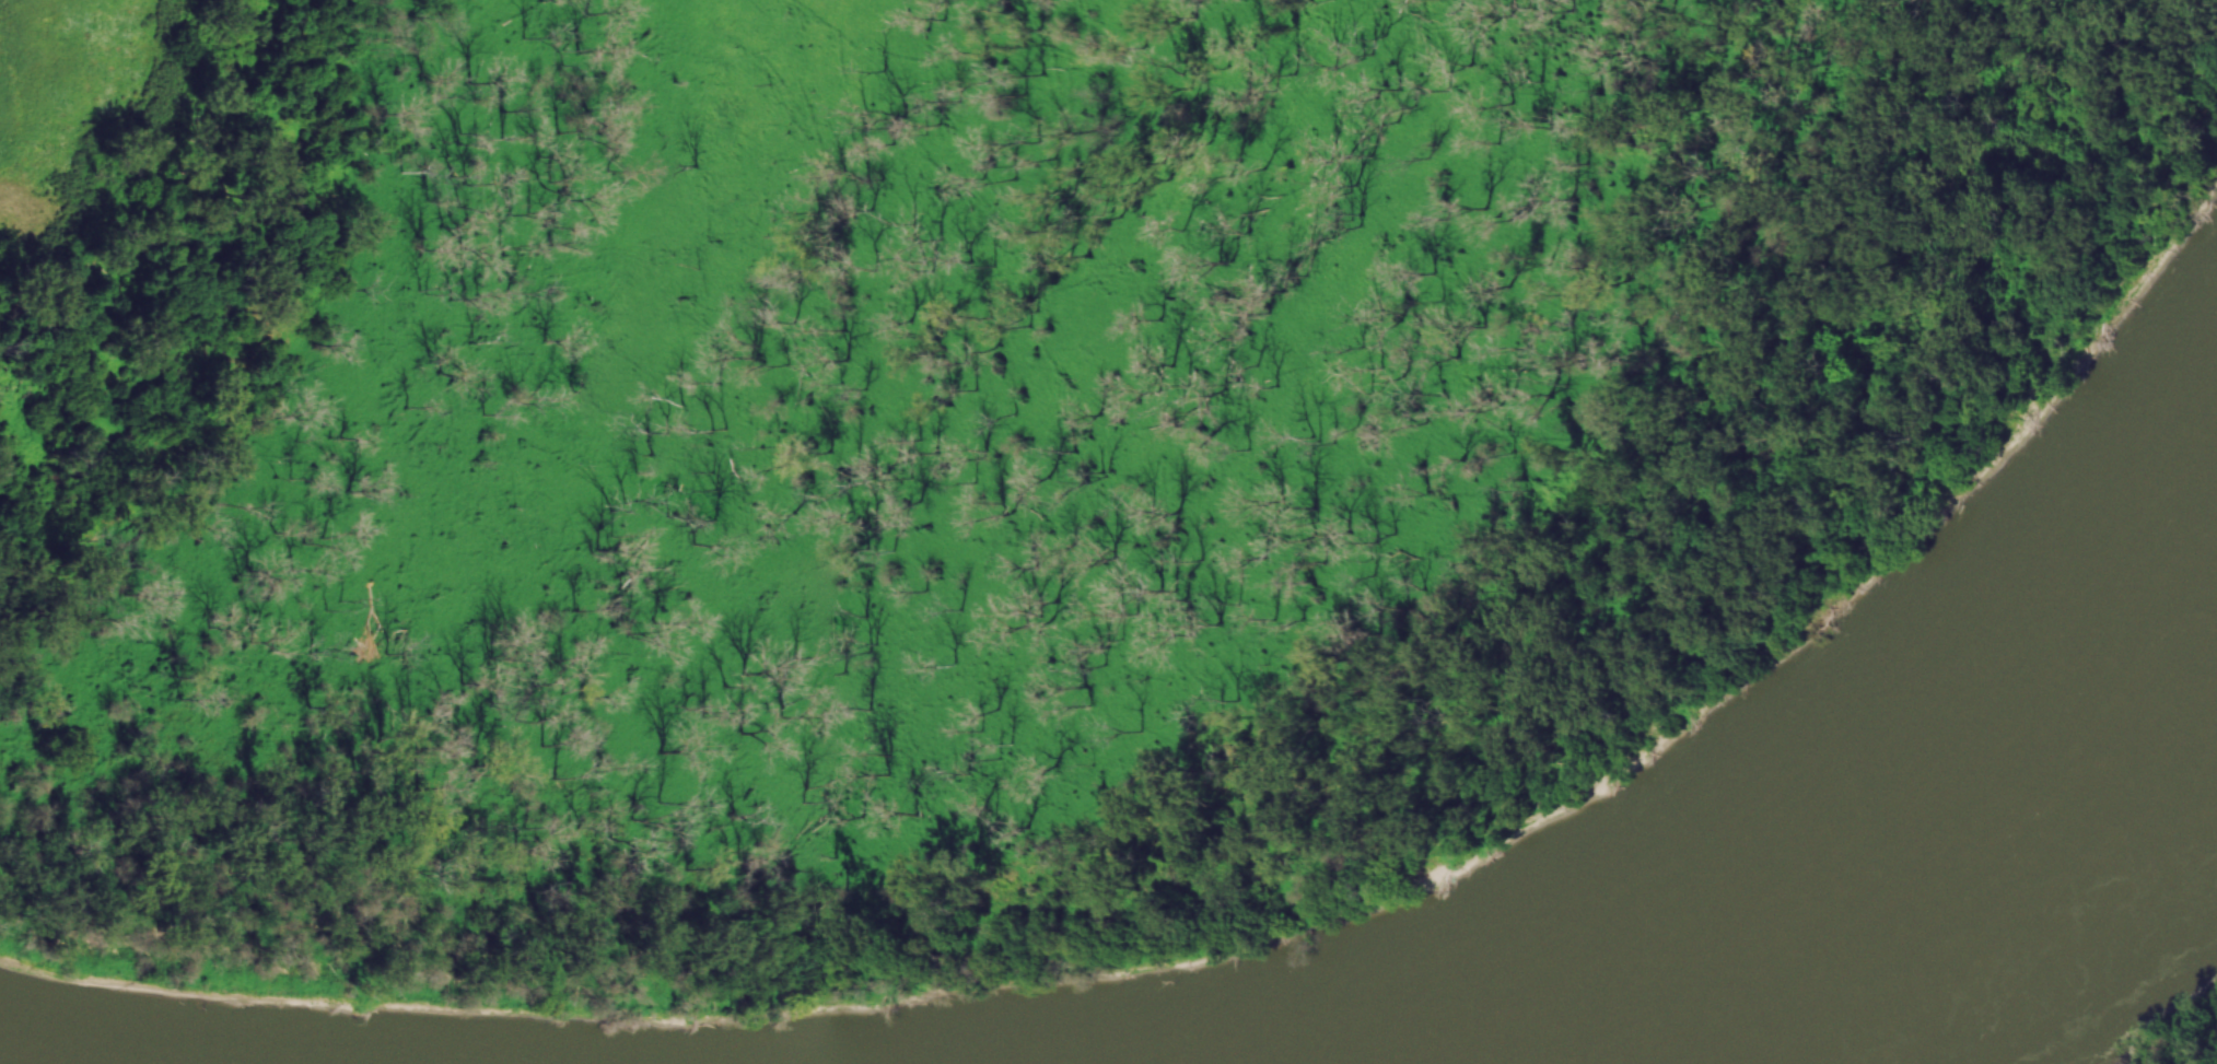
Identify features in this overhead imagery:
river: (1948, 851)

